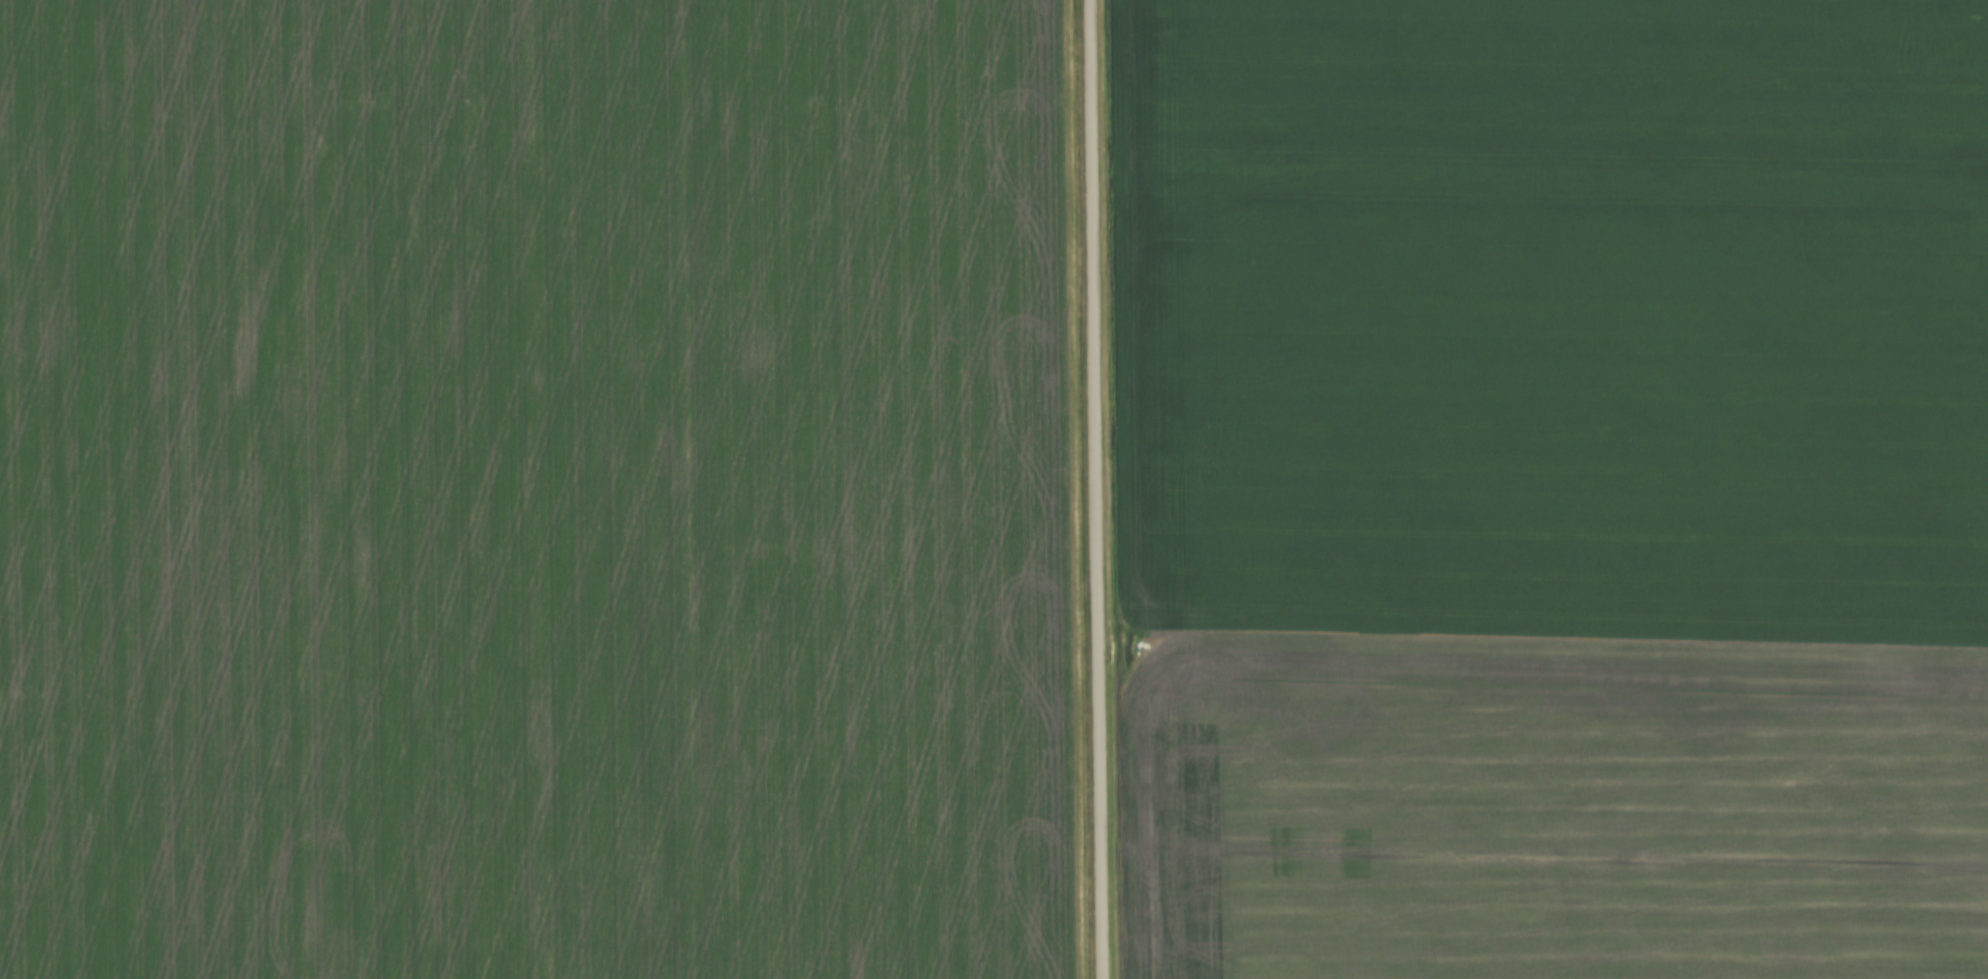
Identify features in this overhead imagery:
road: (1096, 489)

